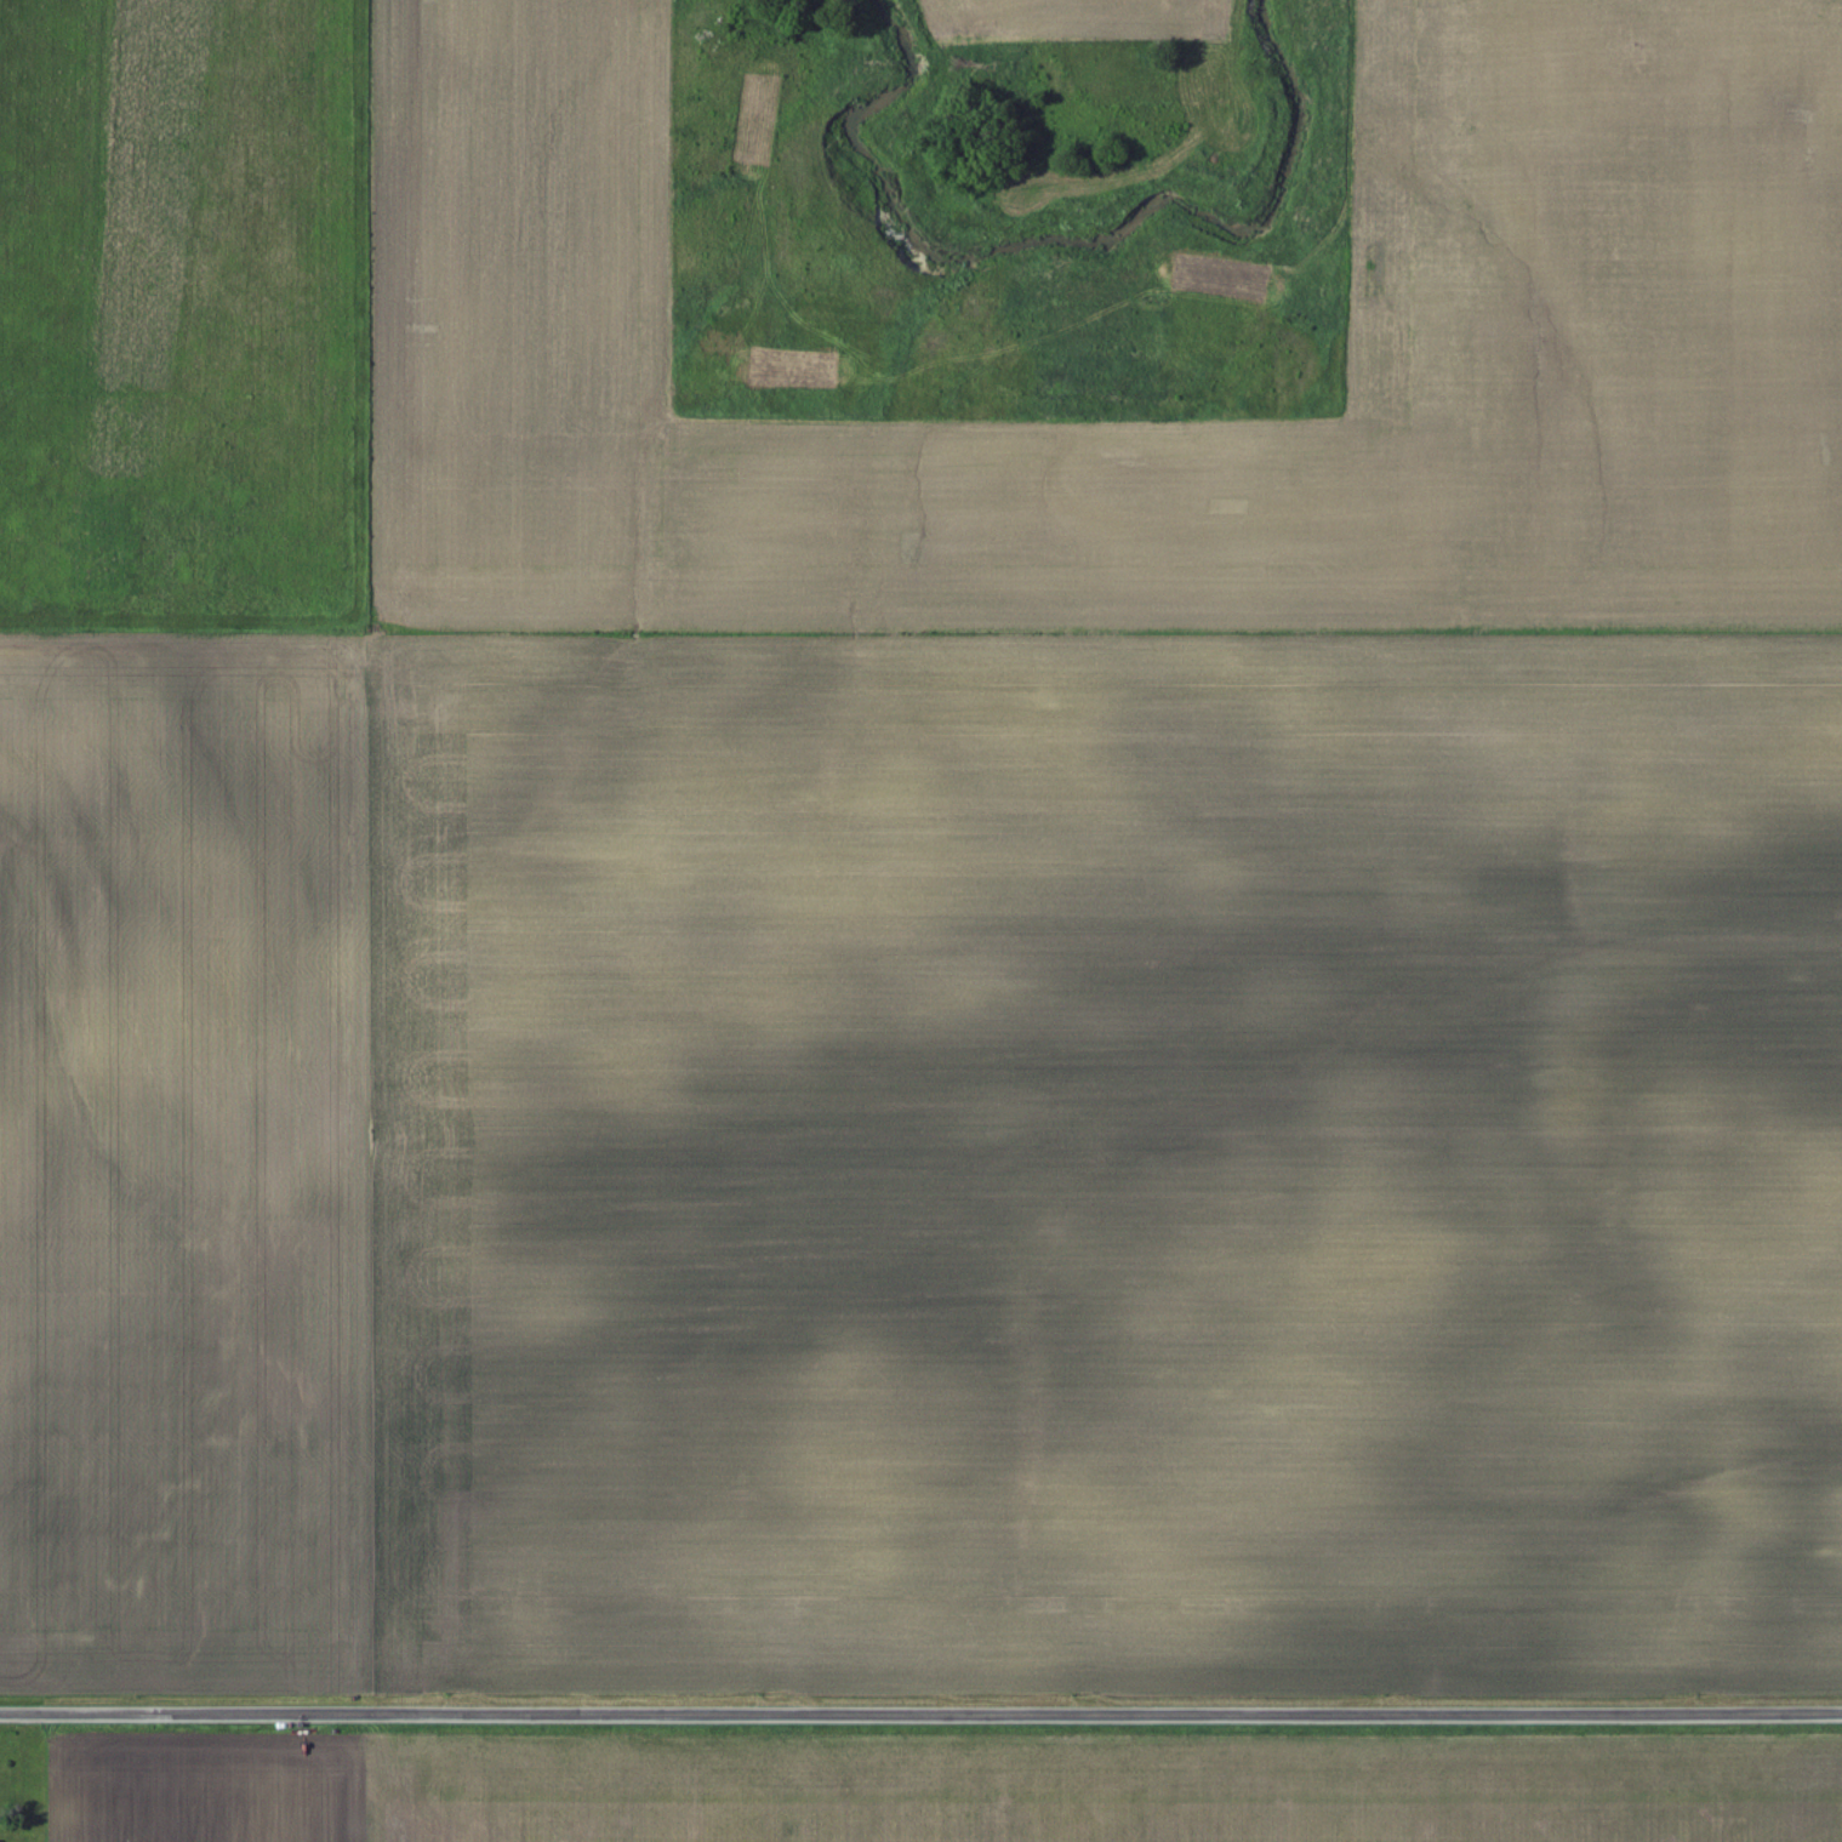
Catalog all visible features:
road: (920, 1713)

